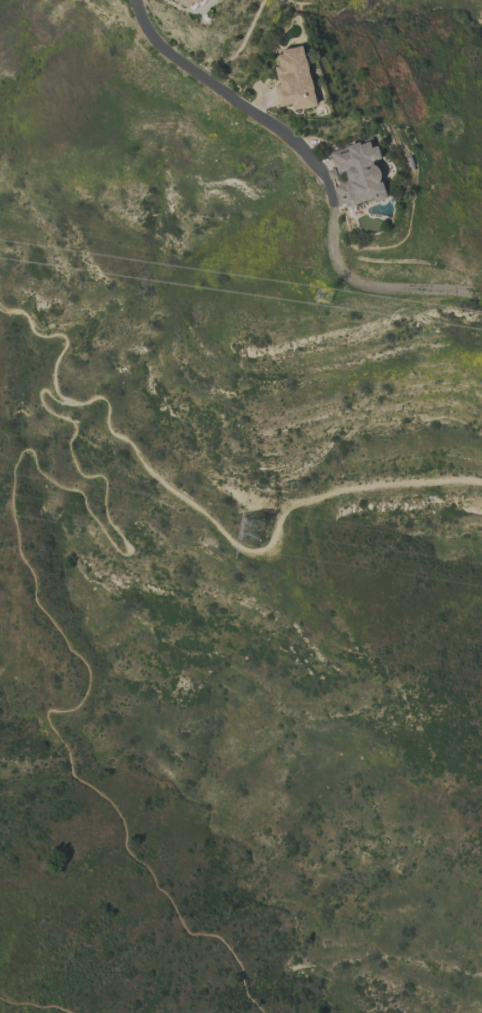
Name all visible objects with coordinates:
building: (207, 0)
building: (188, 2)
building: (294, 78)
road: (236, 99)
building: (357, 172)
road: (370, 285)
road: (477, 294)
road: (64, 337)
road: (143, 463)
road: (336, 492)
road: (250, 499)
power tower: (241, 518)
road: (35, 592)
road: (35, 1005)

